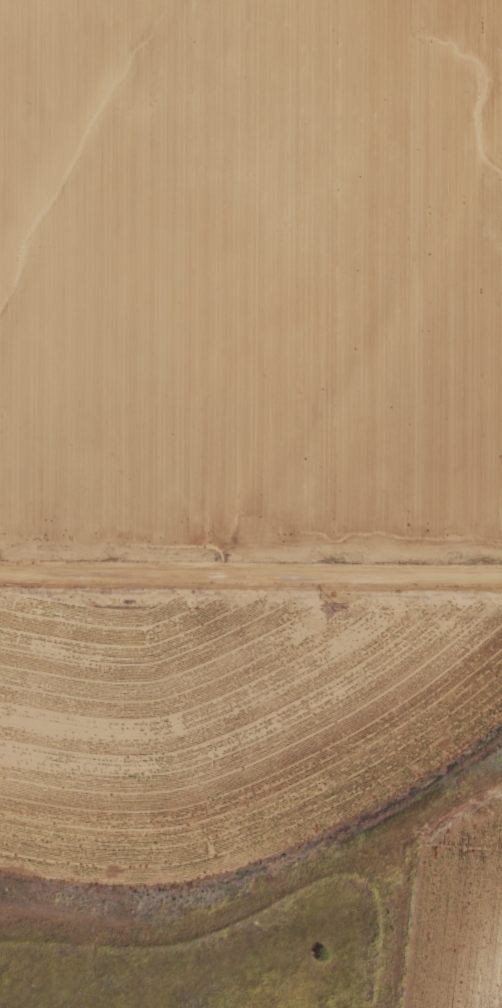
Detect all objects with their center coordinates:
road: (251, 574)
power tower: (336, 607)

